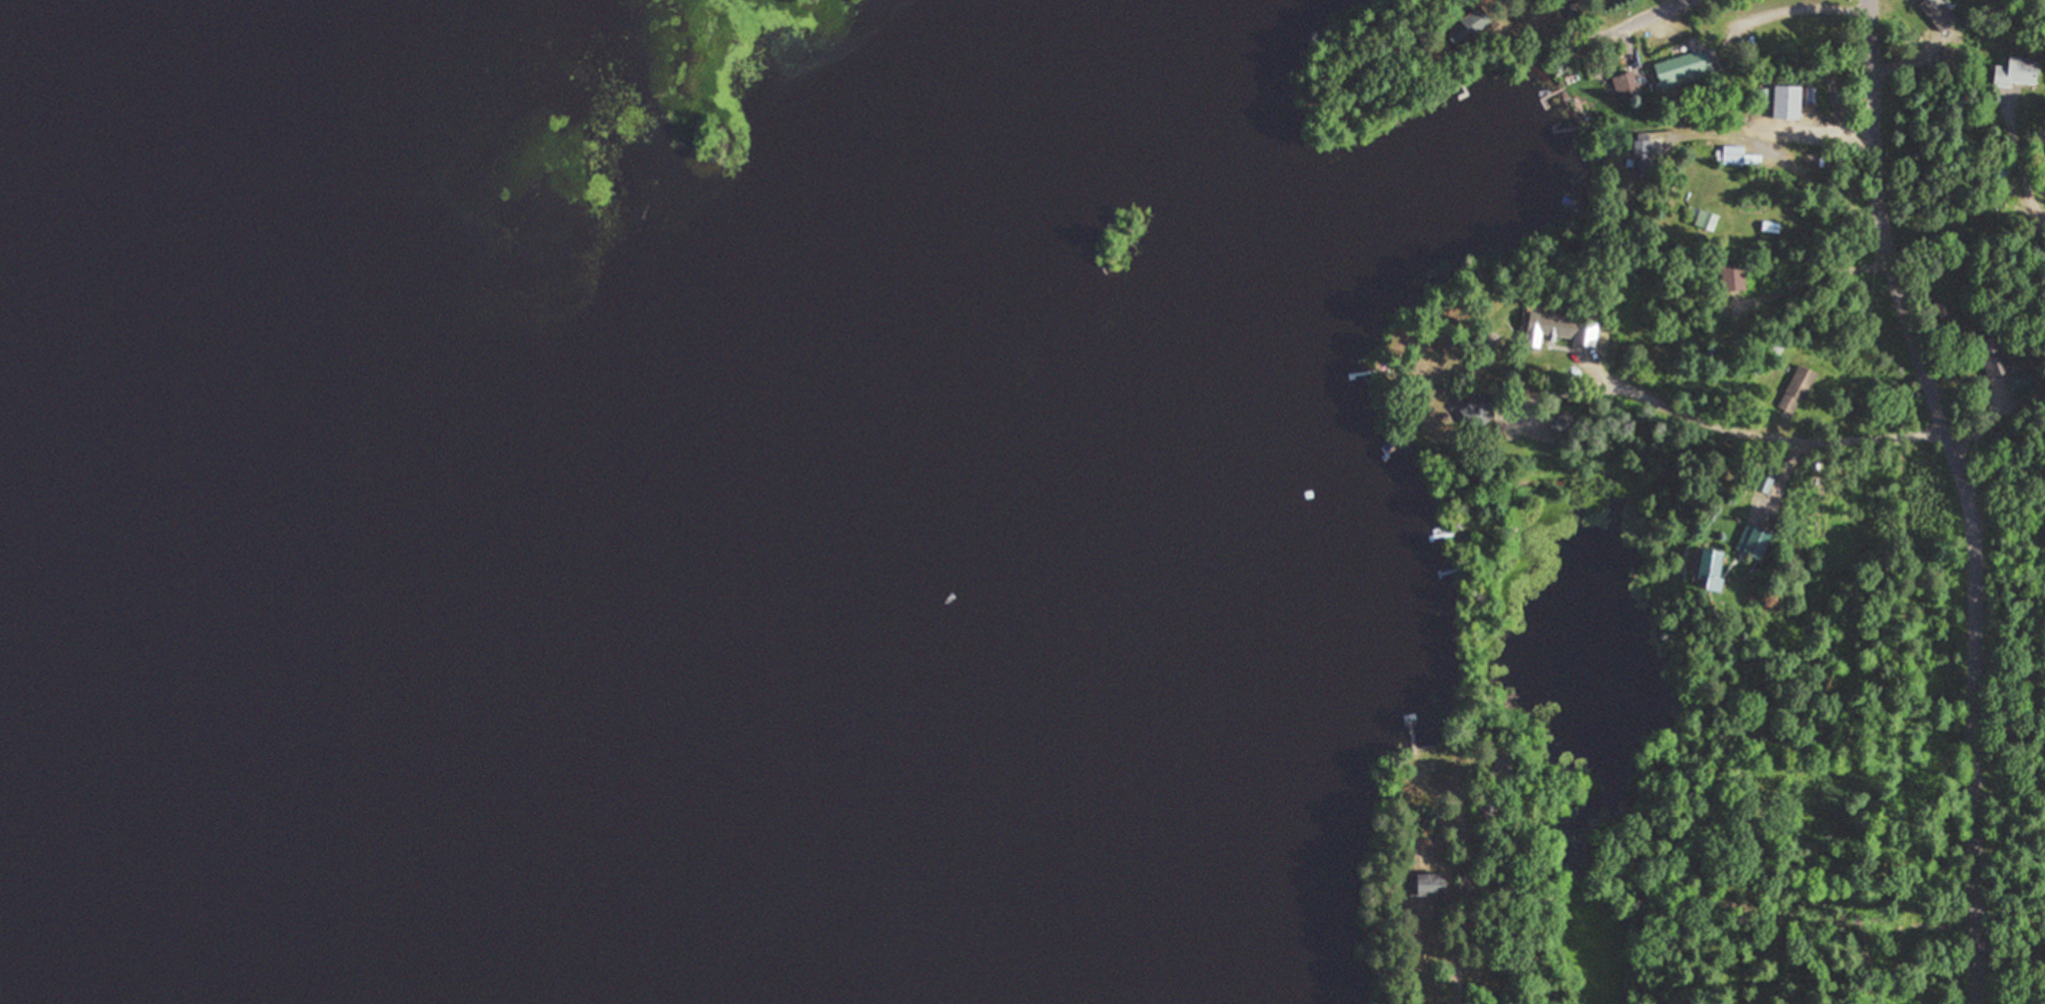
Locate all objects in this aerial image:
road: (1635, 22)
building: (1470, 25)
building: (1950, 54)
river: (26, 64)
building: (1684, 69)
building: (2019, 72)
building: (1627, 85)
building: (1788, 101)
building: (1735, 154)
building: (1643, 155)
road: (2037, 199)
building: (1707, 219)
building: (1772, 226)
building: (1563, 329)
building: (1994, 356)
building: (1798, 390)
building: (1478, 409)
road: (1706, 417)
building: (1563, 423)
road: (1973, 494)
building: (1756, 540)
building: (1712, 567)
river: (55, 744)
building: (1503, 766)
building: (1428, 885)
road: (1441, 960)

